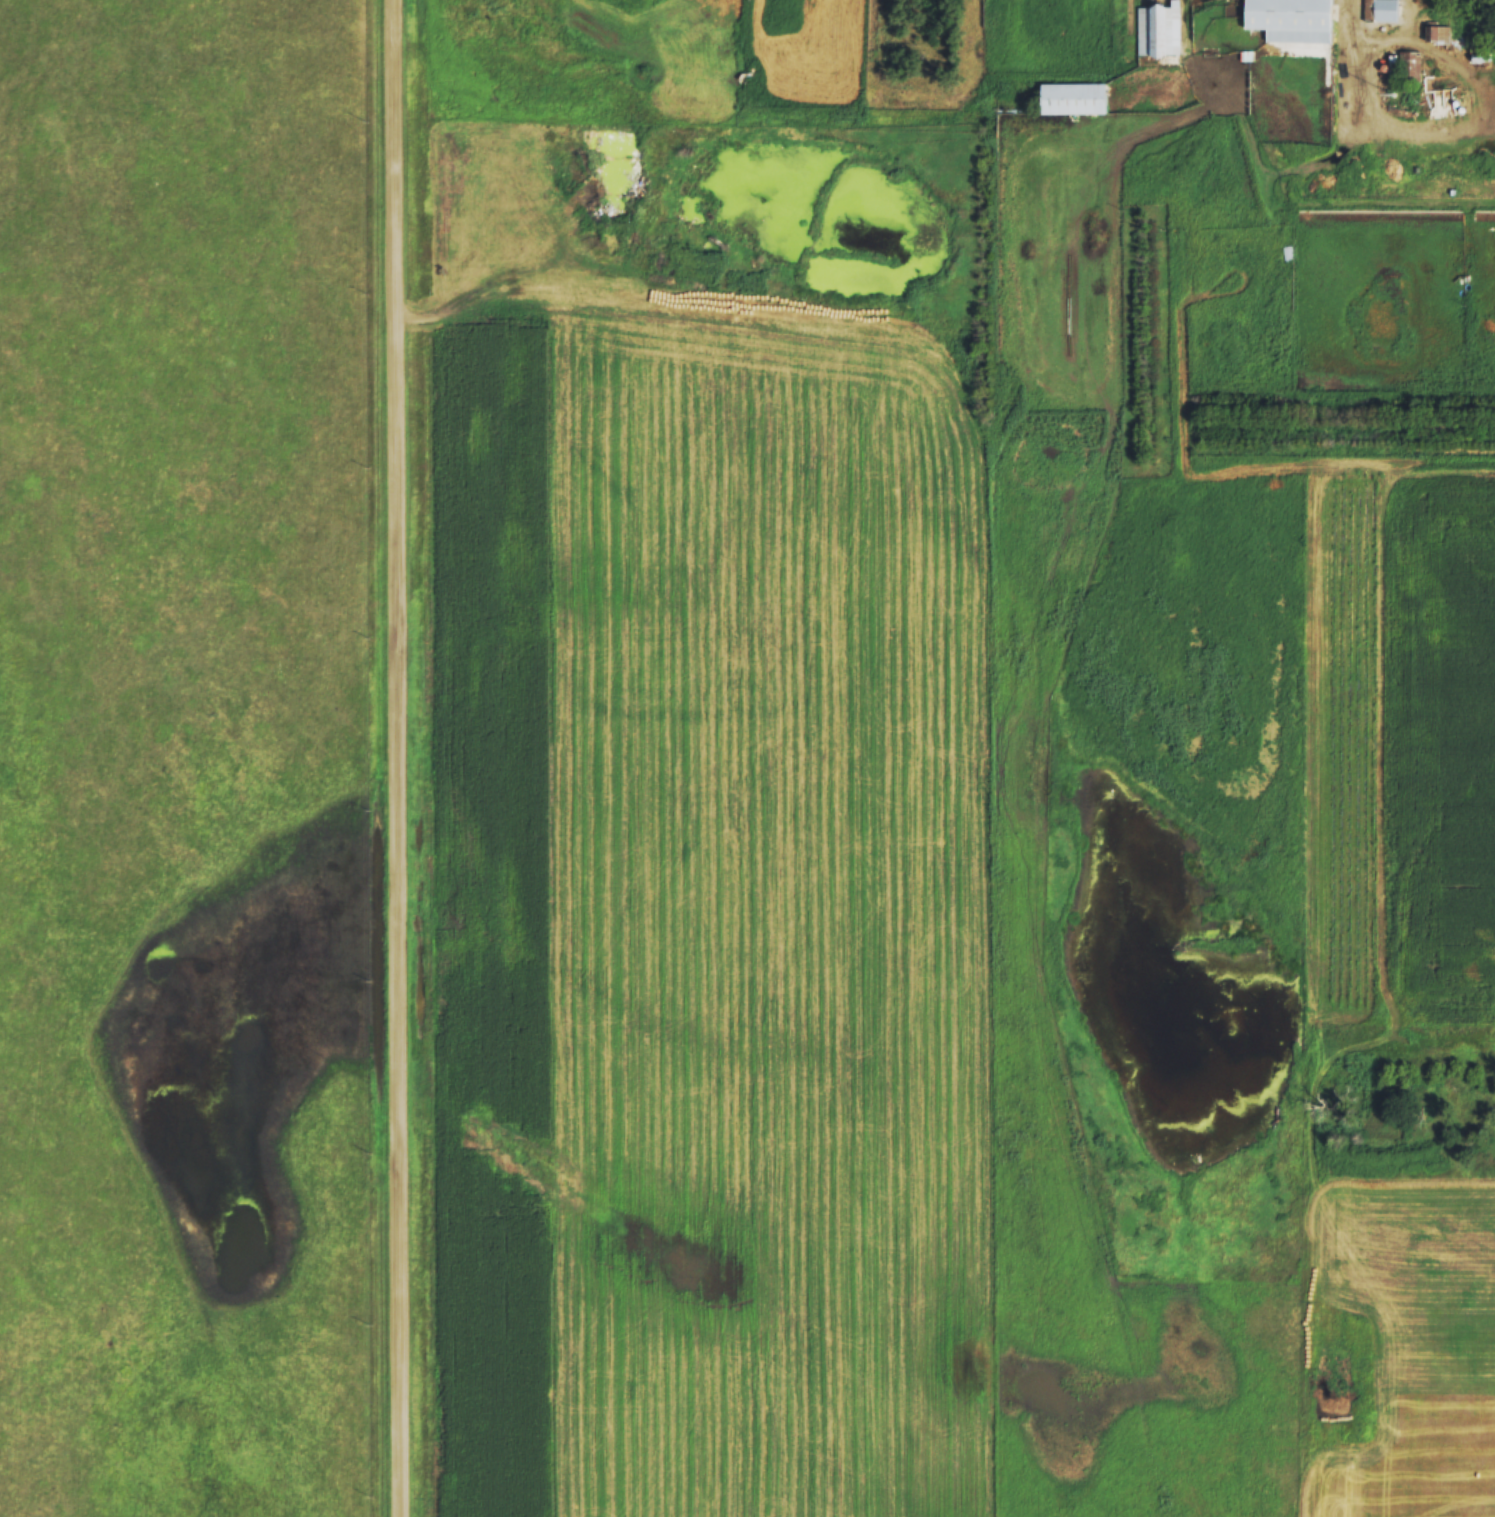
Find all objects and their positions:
building: (1381, 11)
building: (1292, 20)
building: (1157, 34)
building: (1436, 36)
building: (680, 38)
road: (1377, 41)
building: (1404, 68)
building: (1074, 99)
road: (1433, 127)
road: (399, 758)

